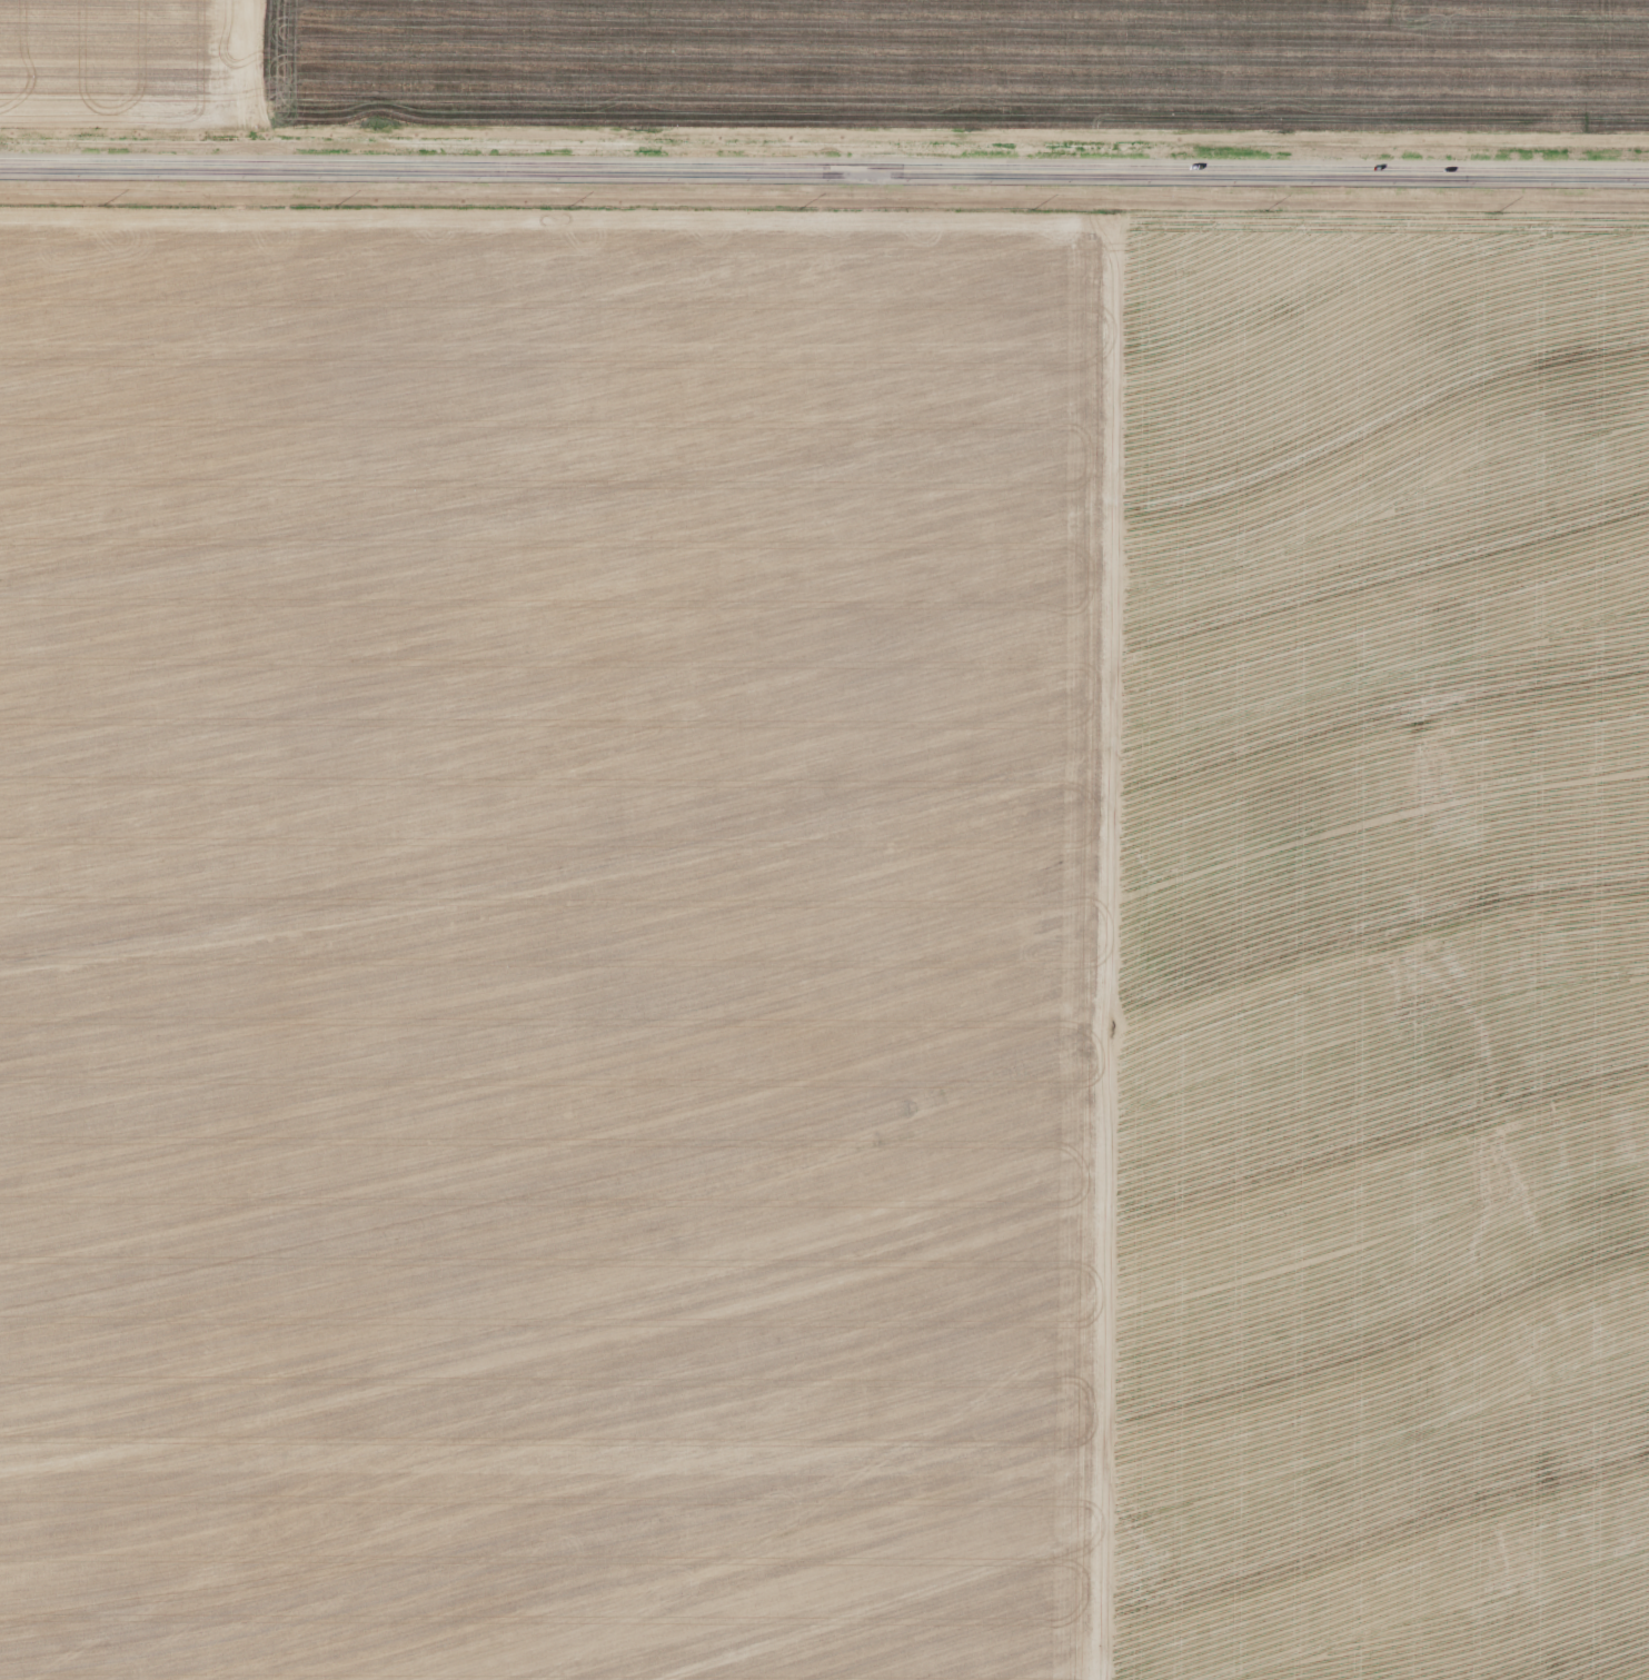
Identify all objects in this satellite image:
road: (824, 171)

